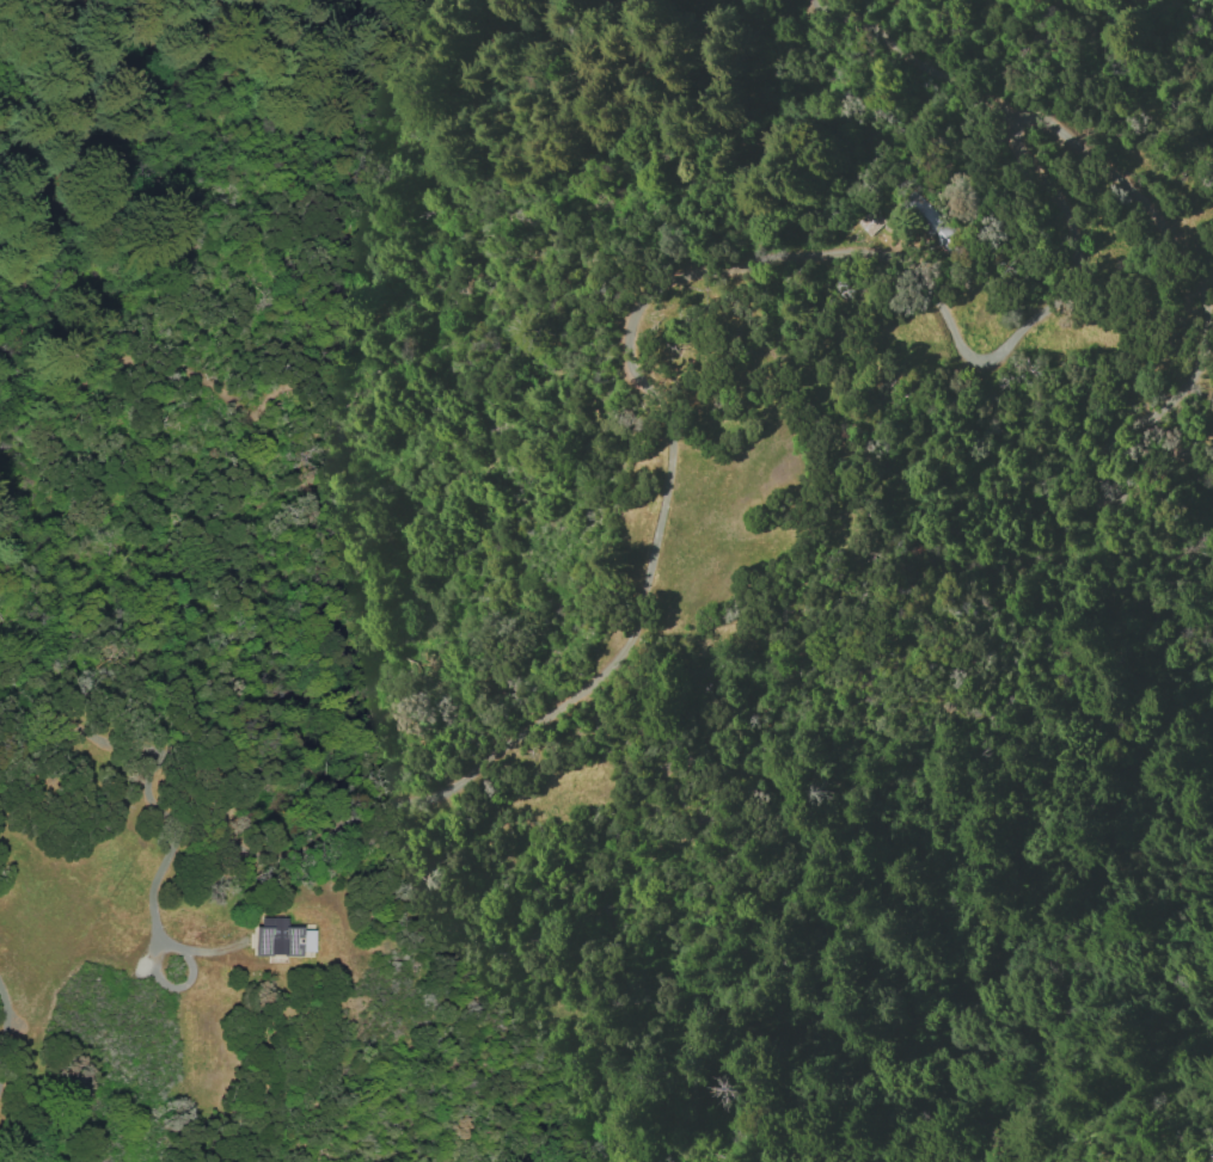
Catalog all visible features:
building: (281, 937)

